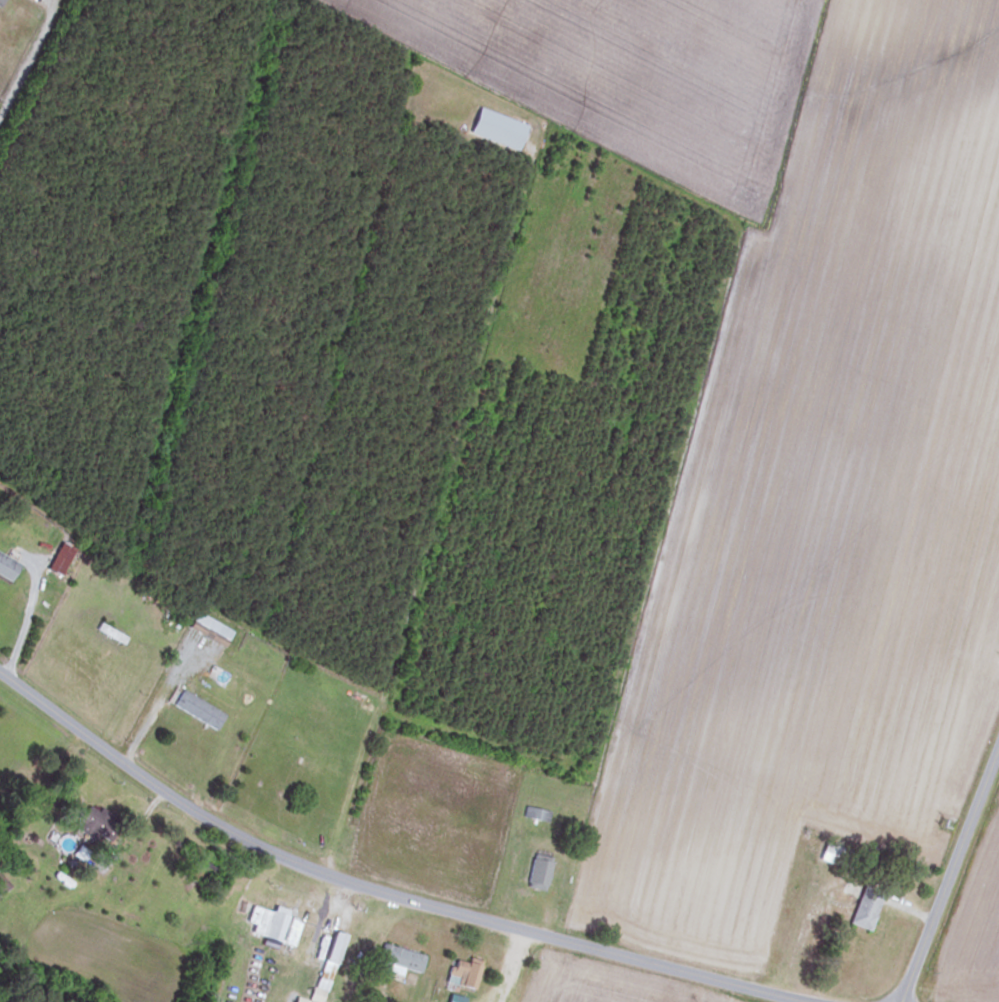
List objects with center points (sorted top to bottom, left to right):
road: (30, 56)
building: (495, 129)
building: (59, 558)
building: (6, 568)
road: (26, 622)
building: (209, 628)
building: (109, 633)
building: (195, 709)
road: (148, 720)
building: (535, 814)
building: (89, 822)
road: (137, 826)
building: (835, 856)
building: (537, 872)
road: (950, 875)
road: (386, 894)
building: (863, 908)
building: (271, 925)
building: (396, 961)
building: (324, 967)
building: (462, 974)

